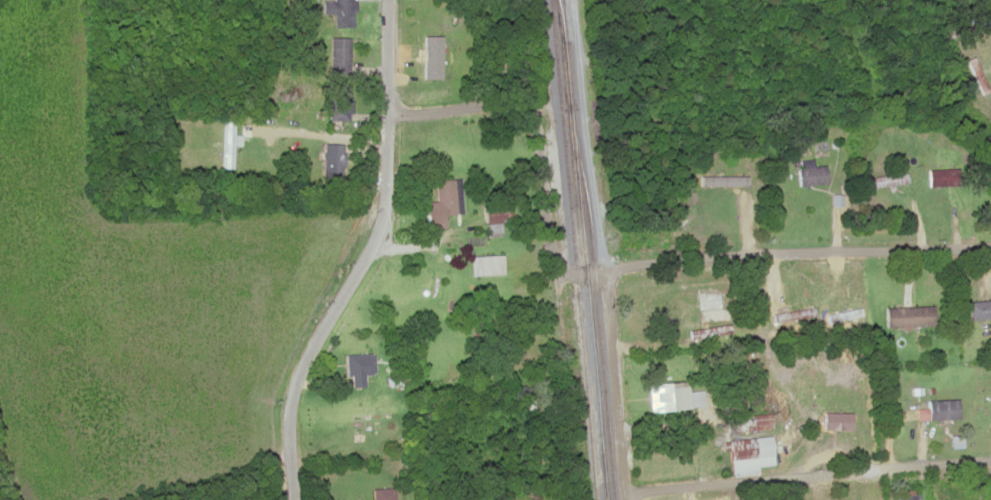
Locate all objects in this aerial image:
building: (340, 11)
building: (339, 55)
building: (340, 102)
road: (517, 111)
building: (228, 145)
building: (332, 160)
building: (811, 172)
building: (943, 176)
building: (882, 180)
building: (717, 181)
building: (443, 202)
railway: (574, 249)
railway: (587, 249)
road: (755, 253)
road: (365, 258)
building: (485, 265)
building: (791, 290)
crop: (120, 297)
building: (687, 300)
building: (979, 310)
building: (909, 316)
building: (359, 369)
road: (614, 384)
building: (515, 394)
building: (673, 397)
building: (734, 399)
building: (943, 409)
building: (747, 424)
building: (829, 444)
building: (749, 454)
road: (808, 472)
building: (384, 493)
building: (906, 495)
building: (950, 495)

